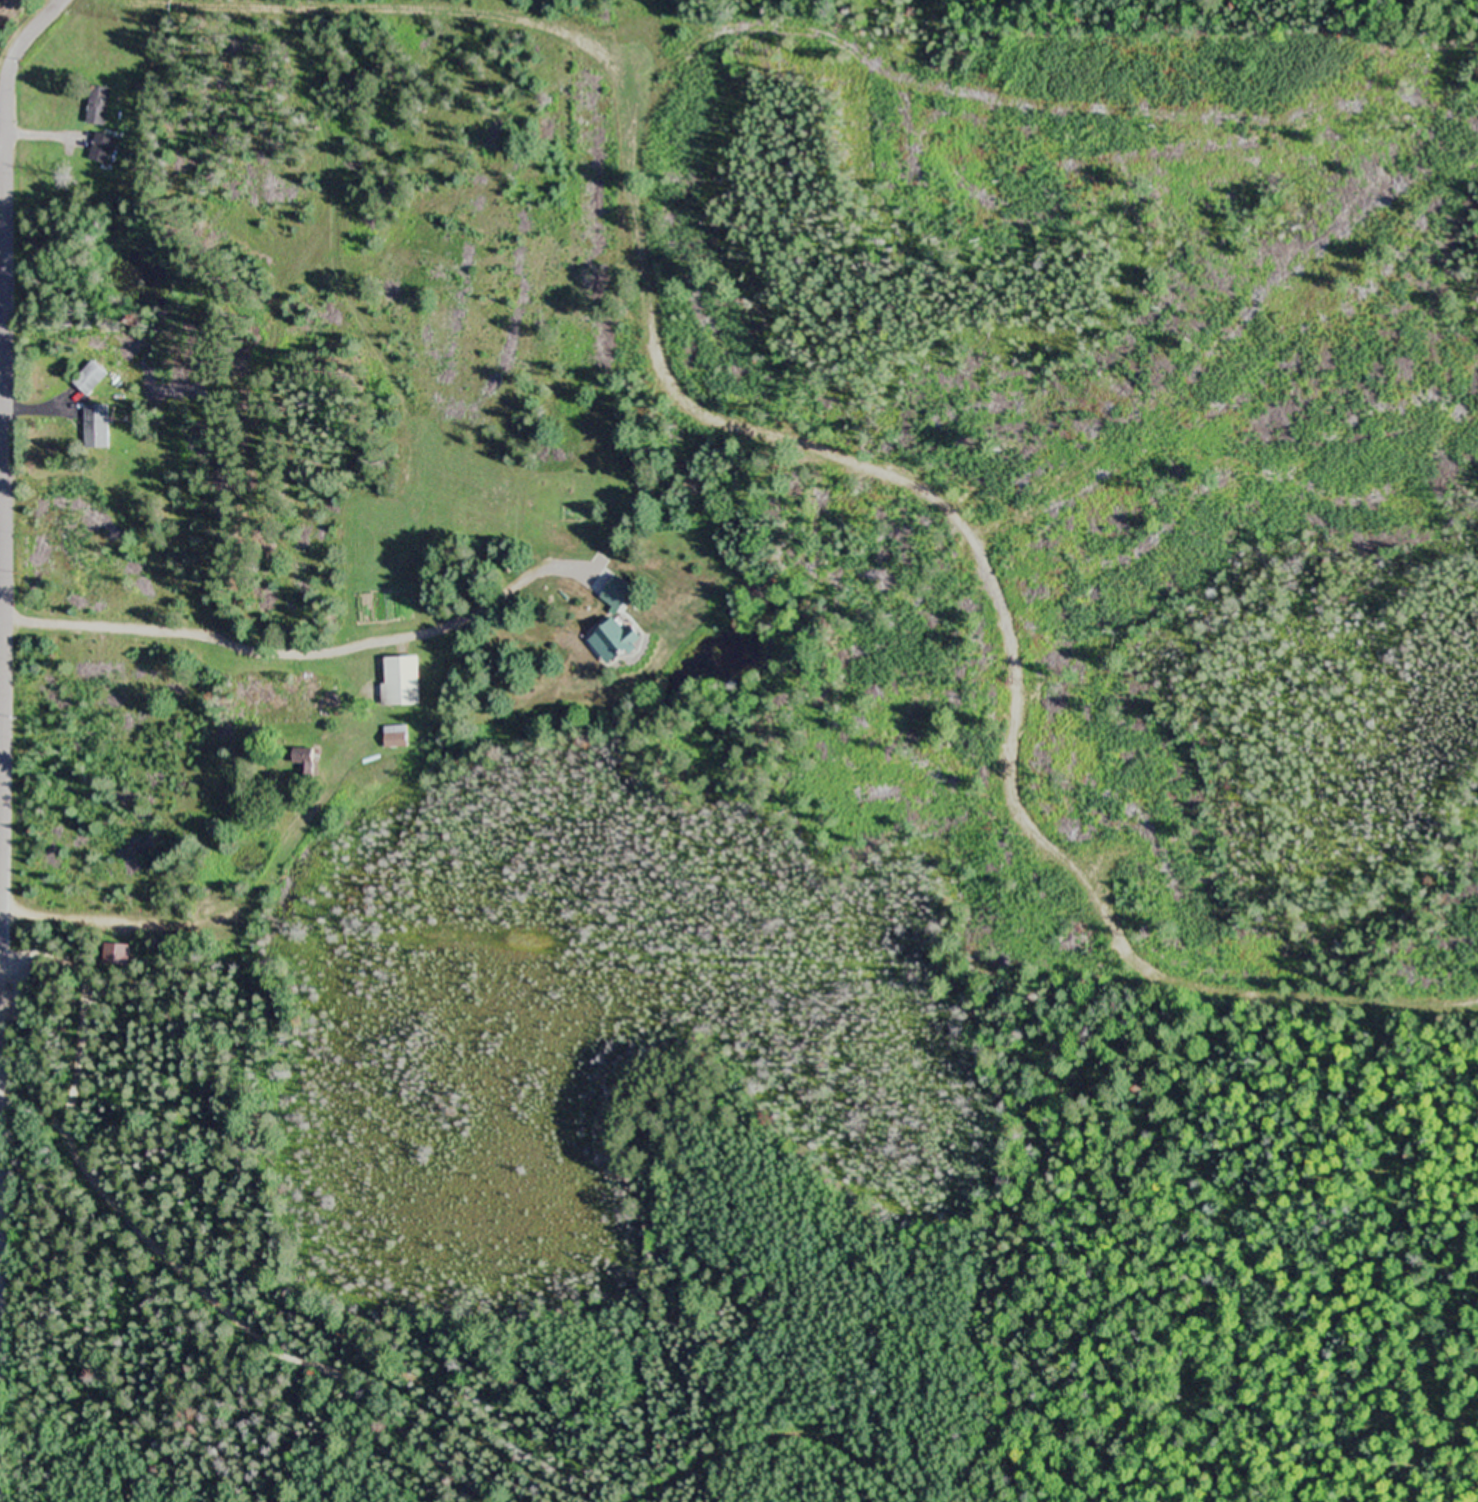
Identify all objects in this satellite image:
building: (97, 107)
building: (101, 149)
building: (88, 380)
road: (7, 420)
building: (96, 428)
building: (616, 594)
building: (614, 641)
building: (400, 682)
building: (396, 737)
building: (303, 761)
road: (4, 905)
road: (226, 920)
building: (115, 956)
road: (0, 1156)
road: (175, 1262)

